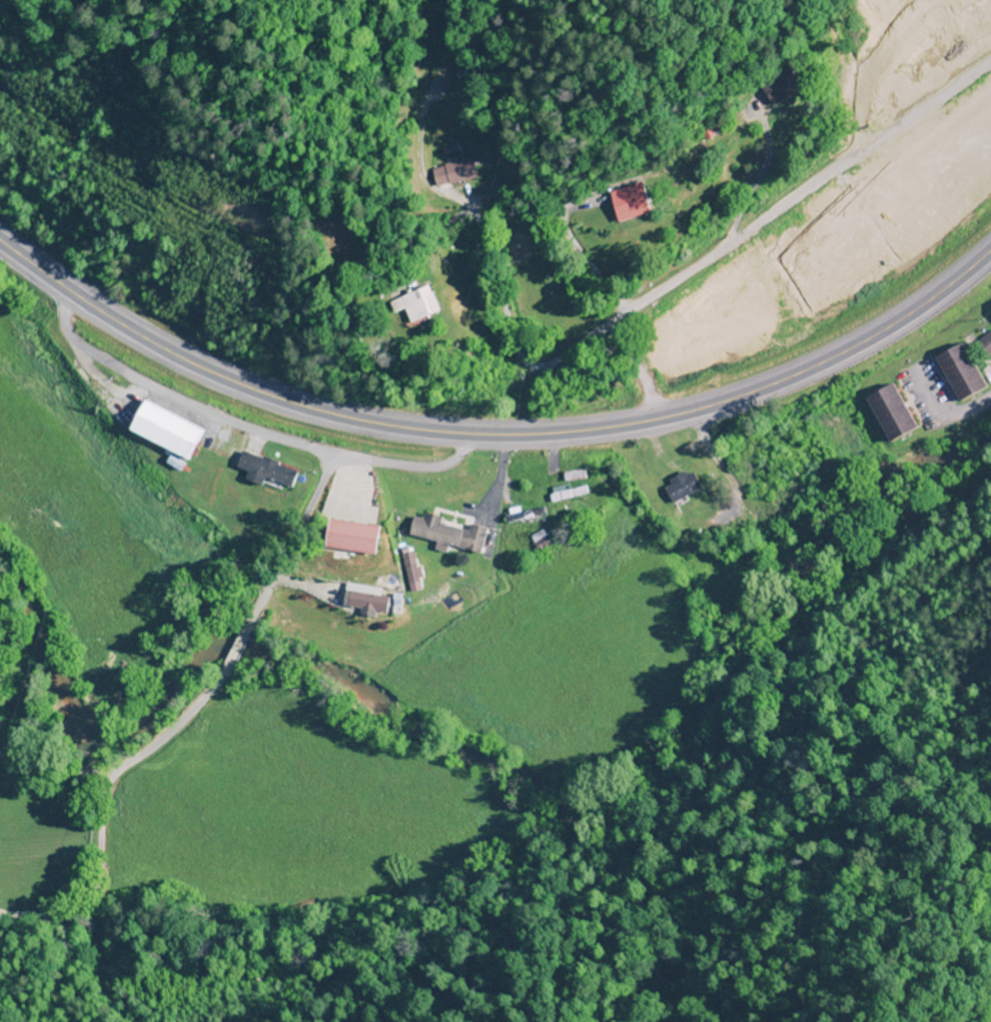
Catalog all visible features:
building: (777, 87)
road: (752, 179)
building: (624, 203)
road: (761, 222)
road: (585, 260)
building: (413, 305)
road: (490, 320)
building: (984, 344)
building: (955, 372)
road: (946, 409)
building: (886, 412)
road: (245, 427)
building: (157, 432)
road: (494, 434)
building: (261, 471)
building: (570, 475)
building: (676, 486)
building: (561, 493)
building: (519, 515)
building: (444, 533)
building: (344, 536)
building: (535, 541)
building: (359, 599)
road: (179, 721)
road: (53, 772)

